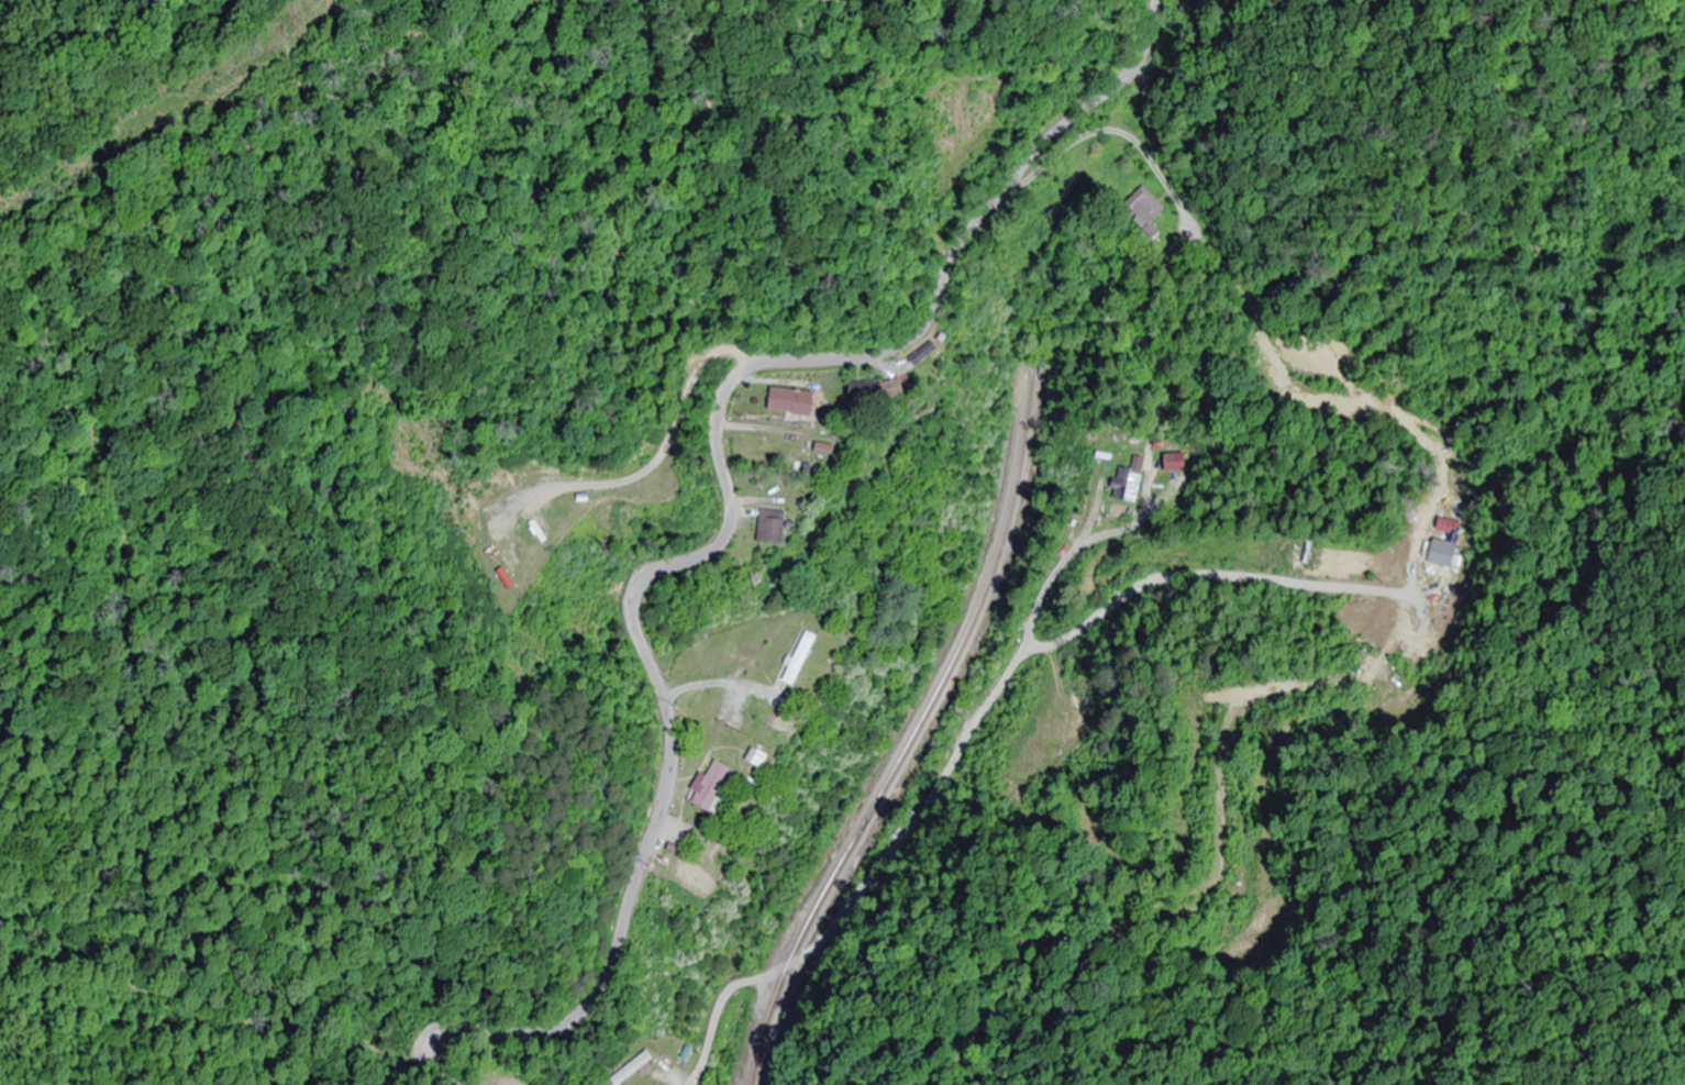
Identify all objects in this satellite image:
building: (1148, 206)
building: (897, 389)
building: (798, 401)
building: (1174, 463)
building: (1131, 483)
road: (662, 484)
building: (553, 521)
building: (777, 525)
railway: (918, 731)
road: (1294, 840)
building: (634, 1069)
road: (269, 1072)
road: (433, 1075)

